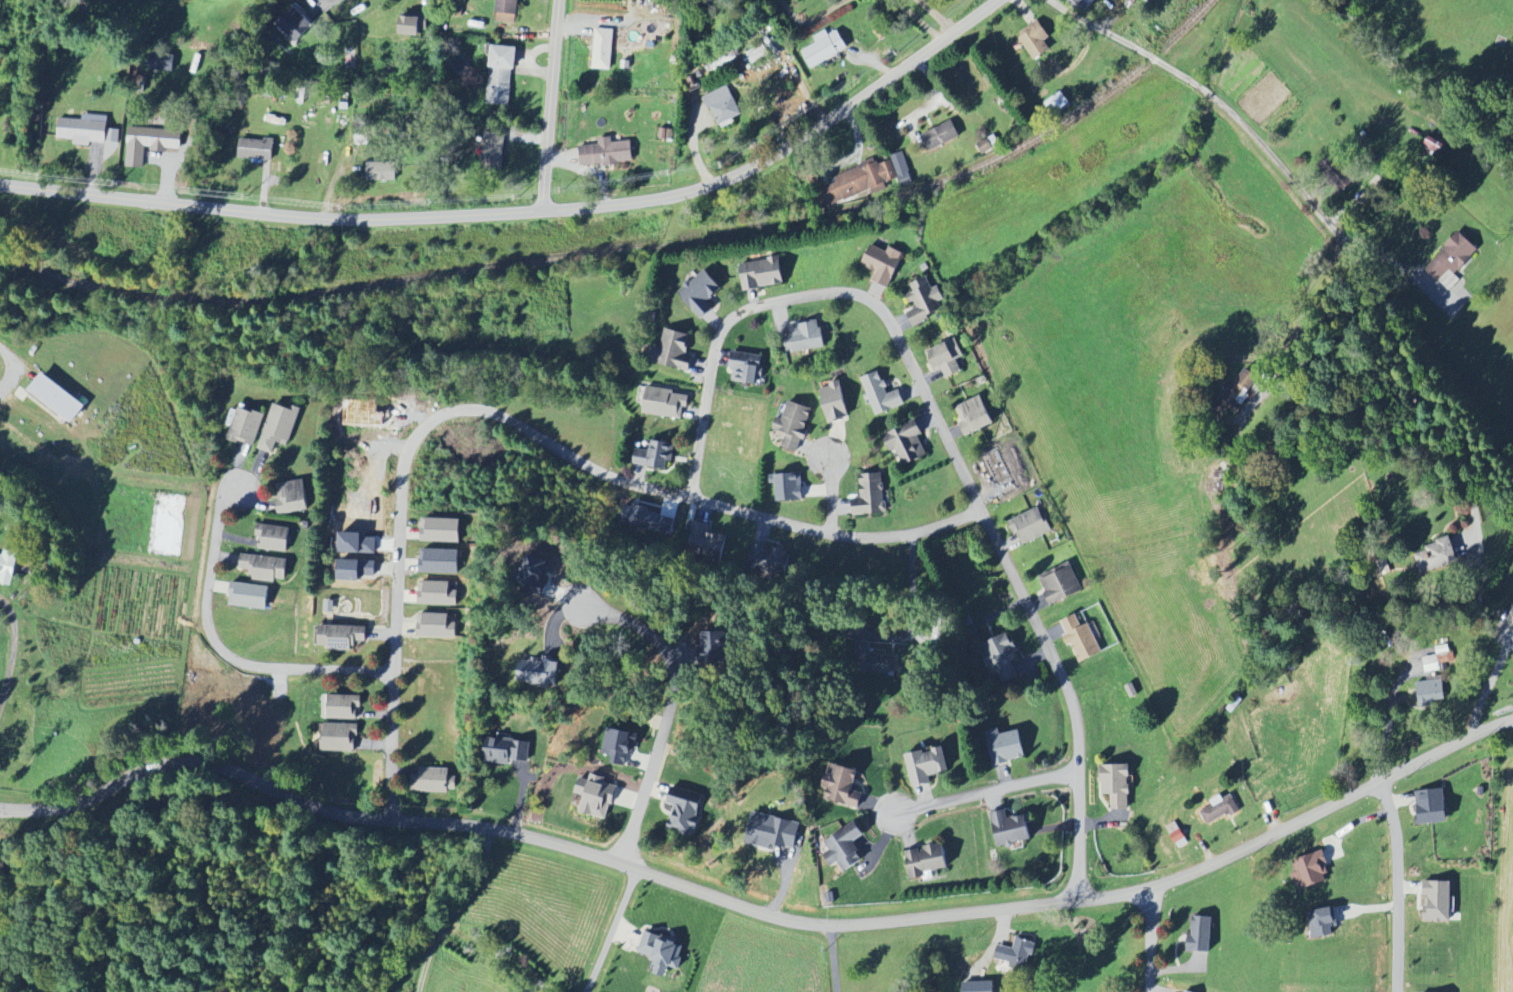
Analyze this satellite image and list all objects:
building: (114, 0)
road: (319, 1)
building: (1085, 3)
building: (507, 11)
road: (919, 18)
building: (298, 19)
road: (811, 19)
building: (412, 24)
building: (1035, 39)
road: (1125, 41)
building: (824, 47)
building: (602, 48)
building: (758, 53)
building: (162, 59)
building: (501, 73)
road: (1207, 90)
building: (1057, 103)
building: (722, 105)
road: (545, 107)
building: (82, 131)
building: (941, 135)
building: (149, 143)
building: (492, 146)
building: (985, 146)
building: (1434, 147)
building: (256, 148)
building: (112, 149)
building: (606, 153)
building: (902, 170)
building: (380, 171)
building: (857, 182)
road: (527, 215)
railway: (632, 248)
building: (883, 264)
building: (762, 274)
road: (1371, 278)
building: (701, 294)
building: (924, 301)
building: (805, 337)
building: (675, 350)
building: (948, 354)
road: (12, 366)
building: (745, 367)
building: (1243, 383)
building: (882, 390)
building: (57, 397)
building: (834, 402)
building: (665, 403)
building: (975, 412)
road: (508, 420)
building: (794, 424)
building: (246, 427)
building: (279, 427)
road: (945, 434)
building: (907, 438)
building: (654, 455)
building: (788, 487)
road: (831, 491)
building: (870, 495)
building: (291, 497)
building: (652, 522)
building: (1031, 522)
building: (440, 530)
building: (273, 538)
building: (706, 542)
building: (1438, 552)
building: (767, 559)
building: (439, 561)
building: (7, 567)
building: (265, 568)
building: (534, 577)
building: (1062, 580)
building: (436, 594)
building: (248, 596)
road: (912, 606)
building: (1512, 616)
building: (436, 625)
building: (341, 637)
building: (1081, 639)
building: (715, 647)
road: (12, 651)
road: (222, 651)
building: (1000, 658)
building: (1438, 659)
building: (539, 671)
road: (1490, 684)
building: (1432, 687)
building: (341, 707)
road: (669, 710)
building: (340, 737)
building: (619, 745)
building: (1006, 747)
building: (505, 751)
building: (925, 765)
building: (435, 780)
building: (1116, 785)
building: (842, 787)
road: (979, 795)
building: (596, 796)
building: (1431, 807)
building: (1219, 809)
building: (685, 811)
building: (1010, 829)
building: (773, 833)
building: (1177, 835)
building: (846, 849)
building: (926, 861)
building: (1310, 871)
road: (1398, 882)
building: (1437, 901)
road: (453, 906)
road: (758, 911)
building: (1322, 923)
road: (611, 930)
building: (1201, 934)
road: (1152, 940)
building: (662, 953)
building: (1017, 954)
road: (833, 958)
building: (979, 987)
building: (1184, 991)

